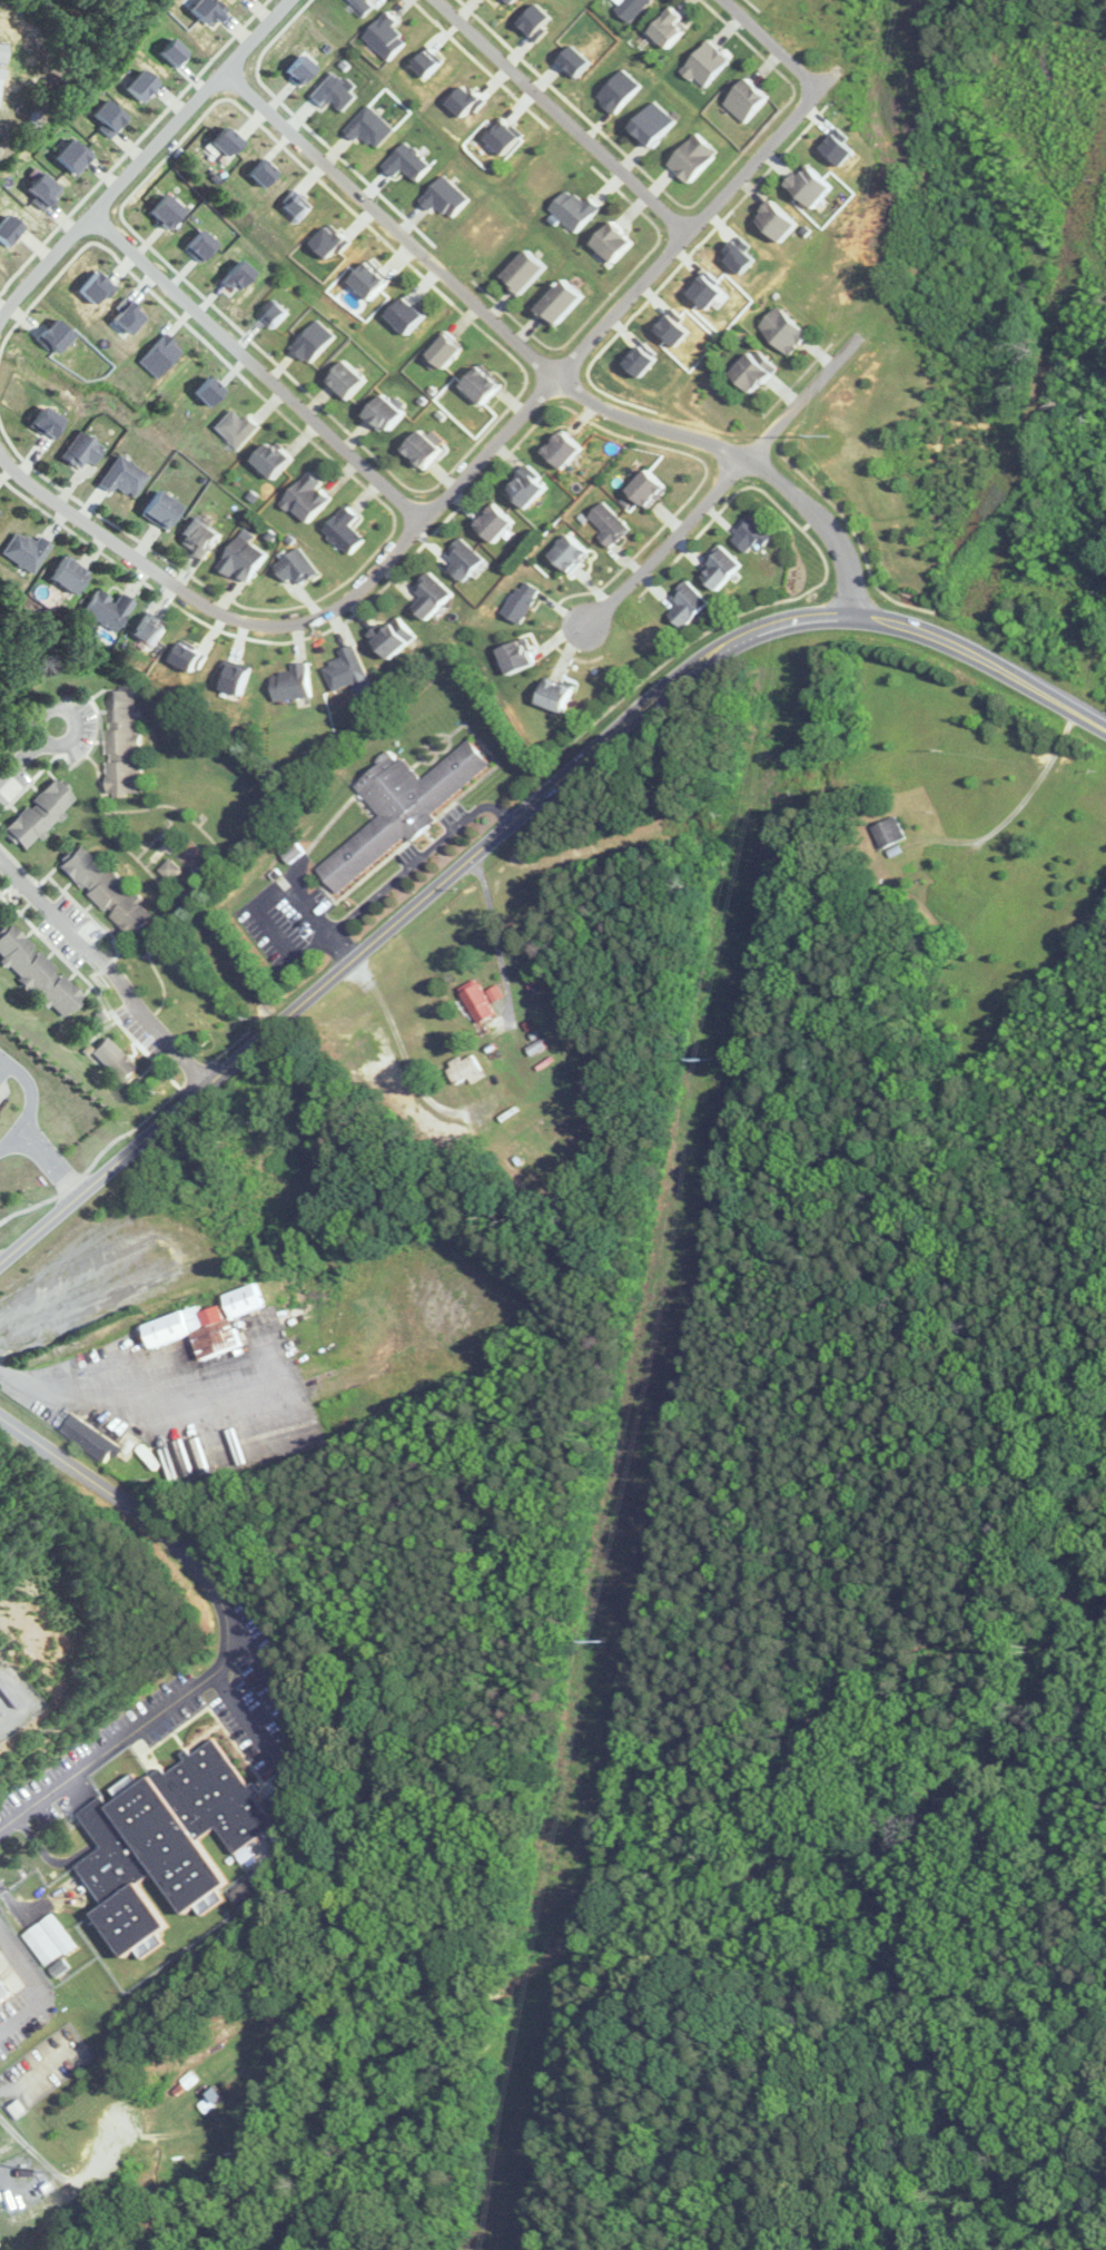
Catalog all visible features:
building: (665, 27)
road: (770, 45)
building: (3, 52)
building: (703, 65)
building: (1, 80)
building: (742, 99)
road: (562, 116)
building: (37, 117)
building: (649, 122)
building: (2, 144)
road: (142, 155)
building: (690, 157)
building: (806, 185)
building: (771, 220)
building: (620, 240)
building: (530, 271)
building: (565, 301)
building: (412, 314)
building: (780, 331)
building: (451, 350)
road: (540, 365)
road: (256, 369)
building: (749, 370)
building: (352, 379)
building: (486, 384)
building: (389, 413)
power tower: (824, 436)
building: (427, 449)
building: (567, 449)
building: (83, 450)
building: (278, 459)
building: (125, 476)
road: (720, 485)
road: (457, 487)
building: (531, 487)
building: (651, 488)
building: (313, 497)
building: (164, 509)
building: (498, 522)
building: (610, 523)
building: (349, 531)
building: (203, 537)
building: (27, 551)
building: (573, 554)
building: (247, 558)
building: (466, 560)
building: (299, 568)
building: (727, 568)
building: (69, 574)
building: (434, 596)
building: (693, 605)
building: (108, 609)
building: (152, 630)
building: (396, 637)
building: (521, 656)
building: (349, 669)
building: (297, 684)
building: (561, 695)
road: (59, 702)
road: (14, 741)
building: (127, 741)
road: (1019, 805)
building: (404, 808)
building: (40, 814)
road: (516, 819)
building: (892, 833)
road: (418, 857)
building: (170, 869)
building: (109, 891)
road: (267, 897)
road: (494, 931)
building: (40, 972)
road: (106, 974)
building: (484, 1001)
road: (403, 1052)
road: (3, 1055)
building: (119, 1060)
power tower: (715, 1060)
road: (3, 1062)
building: (470, 1070)
road: (32, 1104)
road: (51, 1161)
building: (211, 1325)
road: (135, 1402)
building: (92, 1438)
road: (244, 1624)
power tower: (610, 1639)
road: (26, 1696)
road: (247, 1709)
building: (170, 1840)
road: (37, 1984)
building: (6, 1989)

